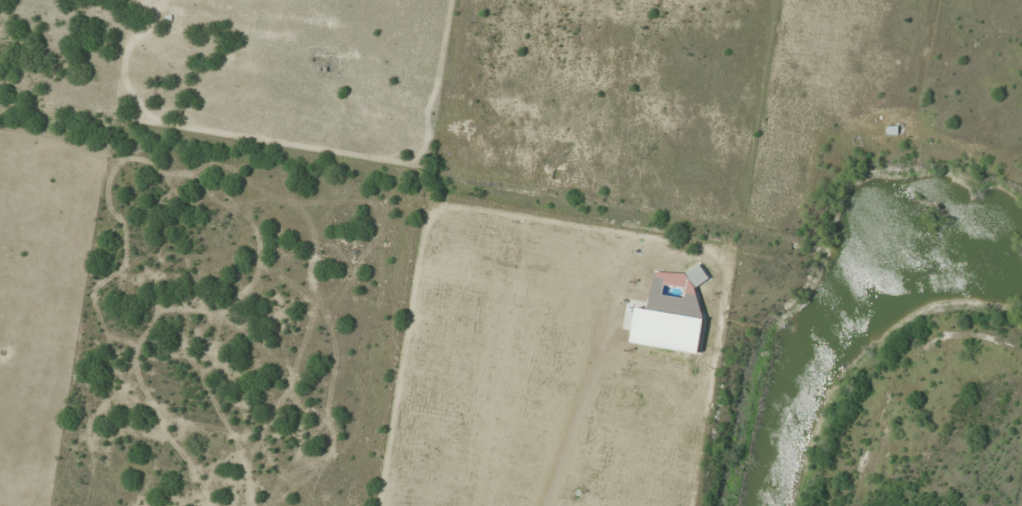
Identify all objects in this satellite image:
building: (696, 276)

